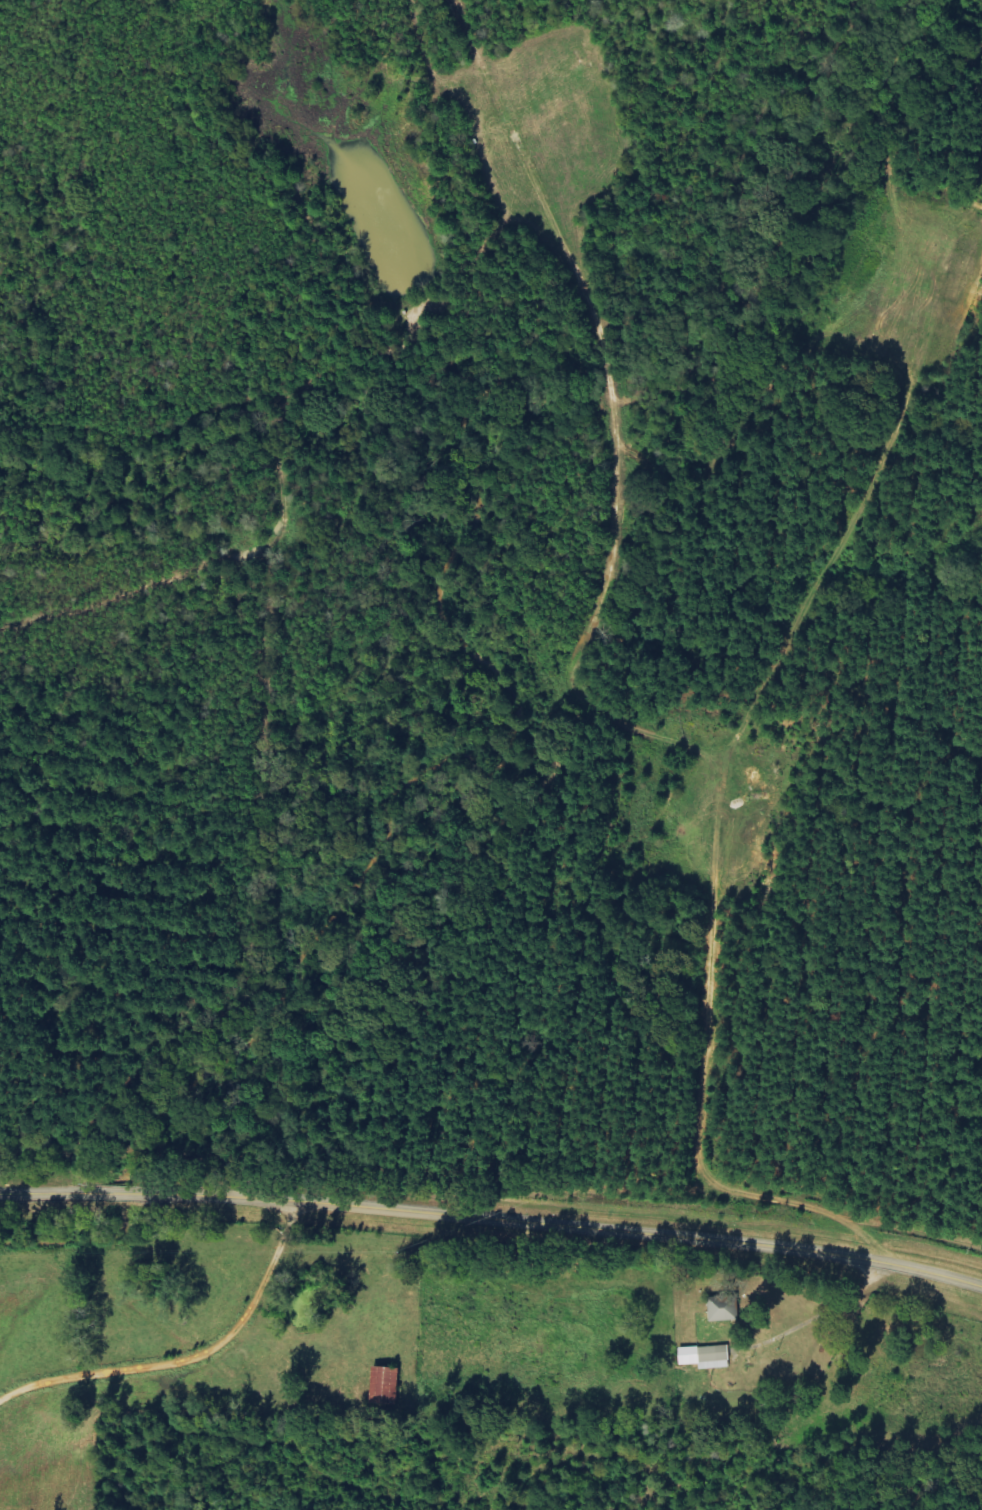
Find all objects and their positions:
road: (493, 1218)
building: (719, 1308)
building: (702, 1356)
building: (381, 1384)

